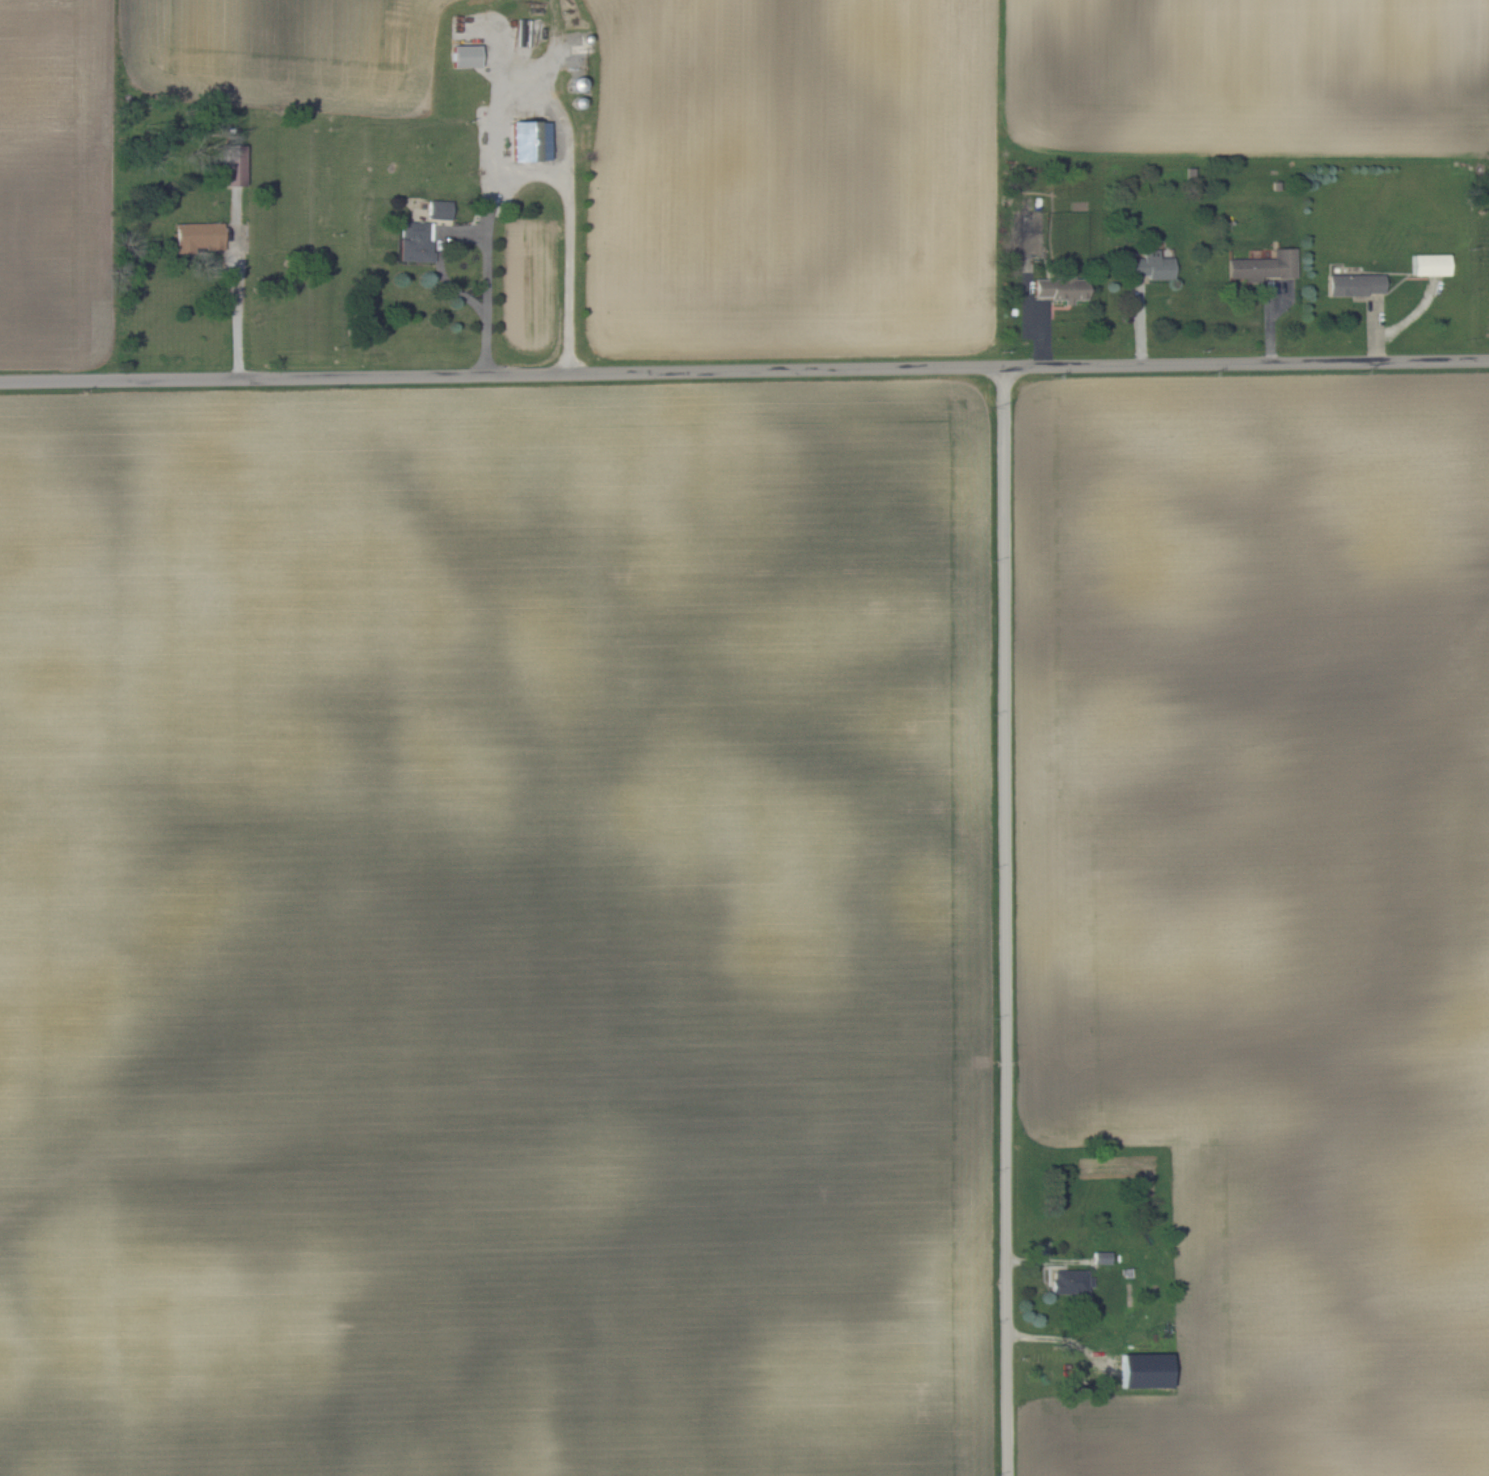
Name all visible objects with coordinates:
road: (503, 52)
building: (465, 56)
road: (522, 94)
building: (530, 141)
building: (232, 165)
road: (532, 171)
building: (437, 208)
building: (1026, 232)
building: (198, 235)
building: (414, 240)
road: (438, 258)
building: (1430, 263)
building: (1152, 264)
building: (1264, 265)
building: (1356, 283)
building: (1062, 286)
road: (239, 313)
road: (745, 372)
road: (1001, 923)
building: (1101, 1257)
building: (1067, 1281)
building: (1145, 1370)

